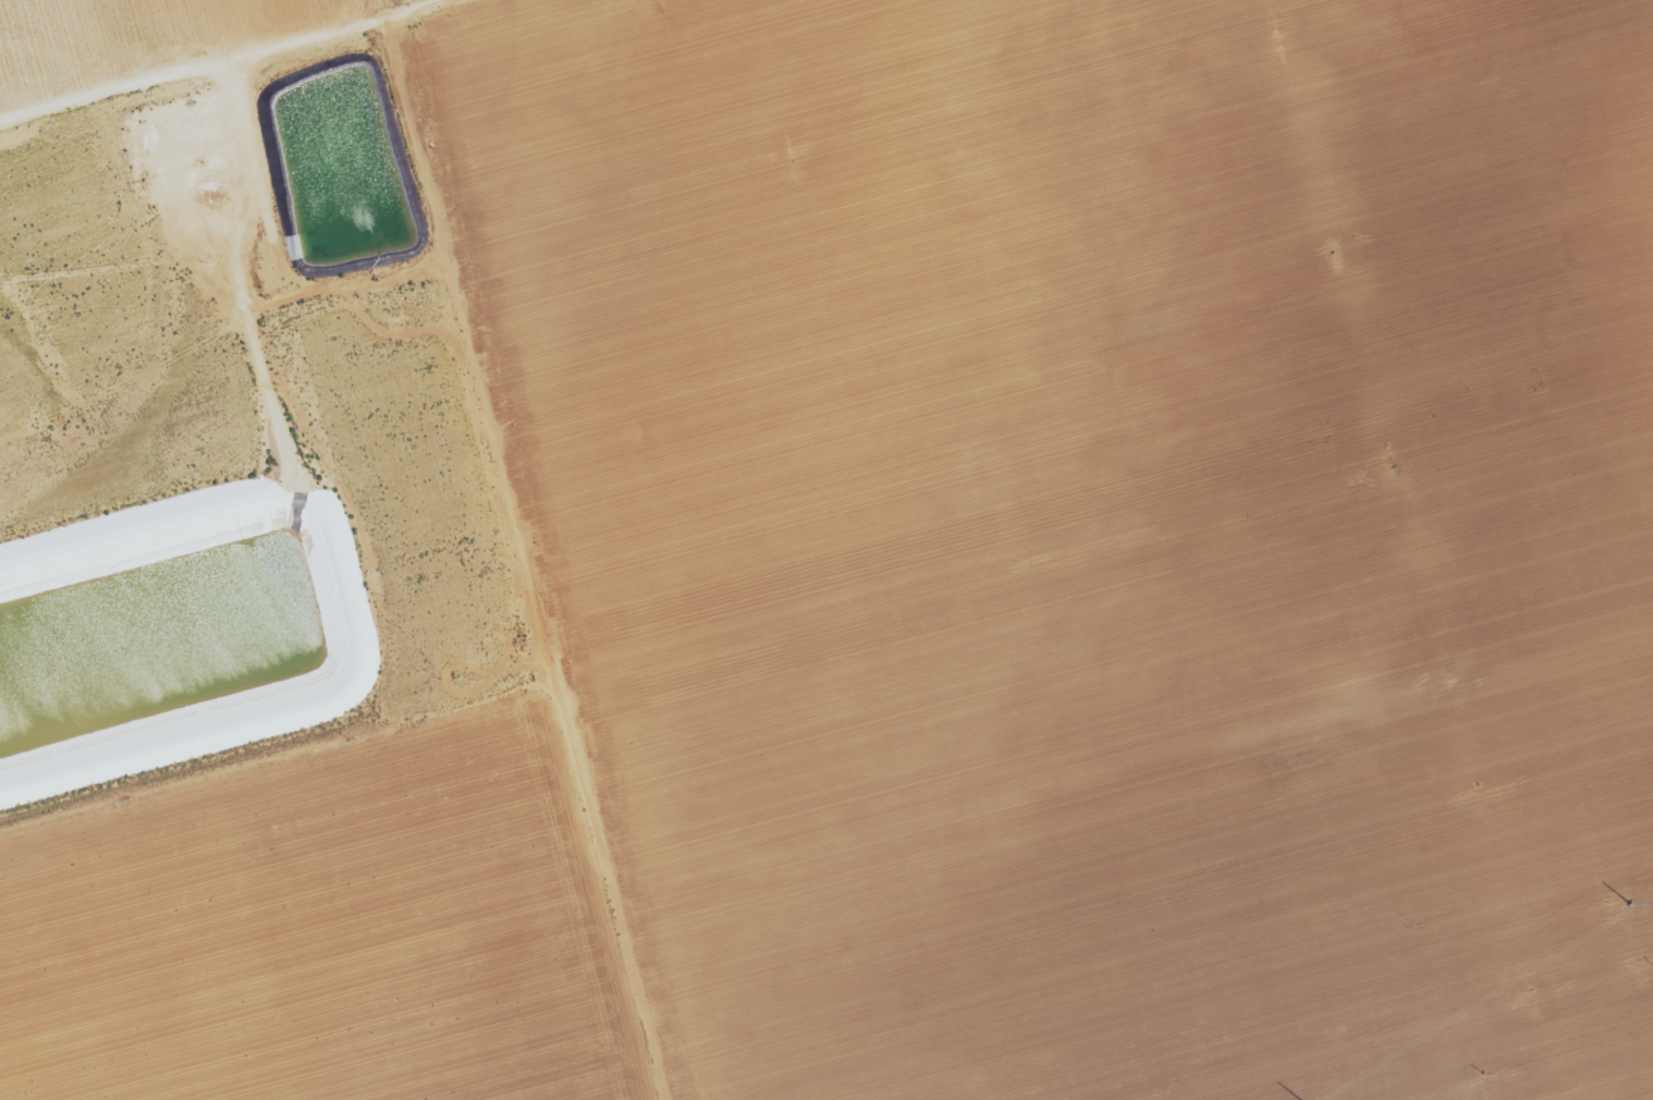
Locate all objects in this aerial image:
power tower: (1629, 904)
power tower: (1483, 1073)

